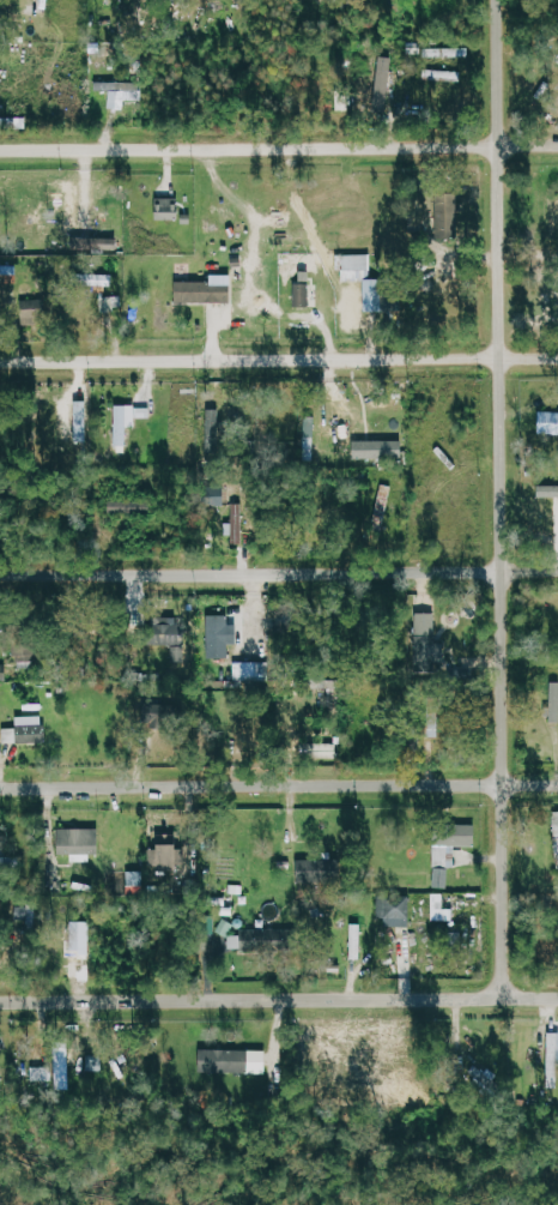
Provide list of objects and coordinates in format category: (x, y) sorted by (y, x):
building: (448, 52)
building: (443, 74)
building: (387, 84)
building: (121, 92)
road: (278, 146)
building: (168, 209)
building: (96, 242)
building: (356, 267)
building: (207, 290)
building: (303, 290)
building: (393, 295)
road: (278, 357)
building: (128, 421)
building: (548, 423)
building: (380, 450)
building: (548, 492)
building: (219, 495)
road: (499, 499)
building: (383, 505)
building: (131, 506)
building: (237, 523)
road: (278, 571)
building: (172, 631)
building: (220, 634)
building: (427, 640)
building: (177, 653)
building: (24, 661)
building: (4, 670)
building: (253, 670)
building: (554, 701)
building: (153, 711)
building: (28, 729)
road: (278, 785)
building: (557, 838)
building: (80, 843)
building: (451, 850)
building: (166, 855)
building: (307, 869)
building: (443, 908)
building: (396, 910)
building: (254, 939)
building: (357, 941)
road: (278, 1000)
building: (553, 1060)
building: (232, 1061)
building: (95, 1062)
building: (41, 1073)
building: (0, 1083)

